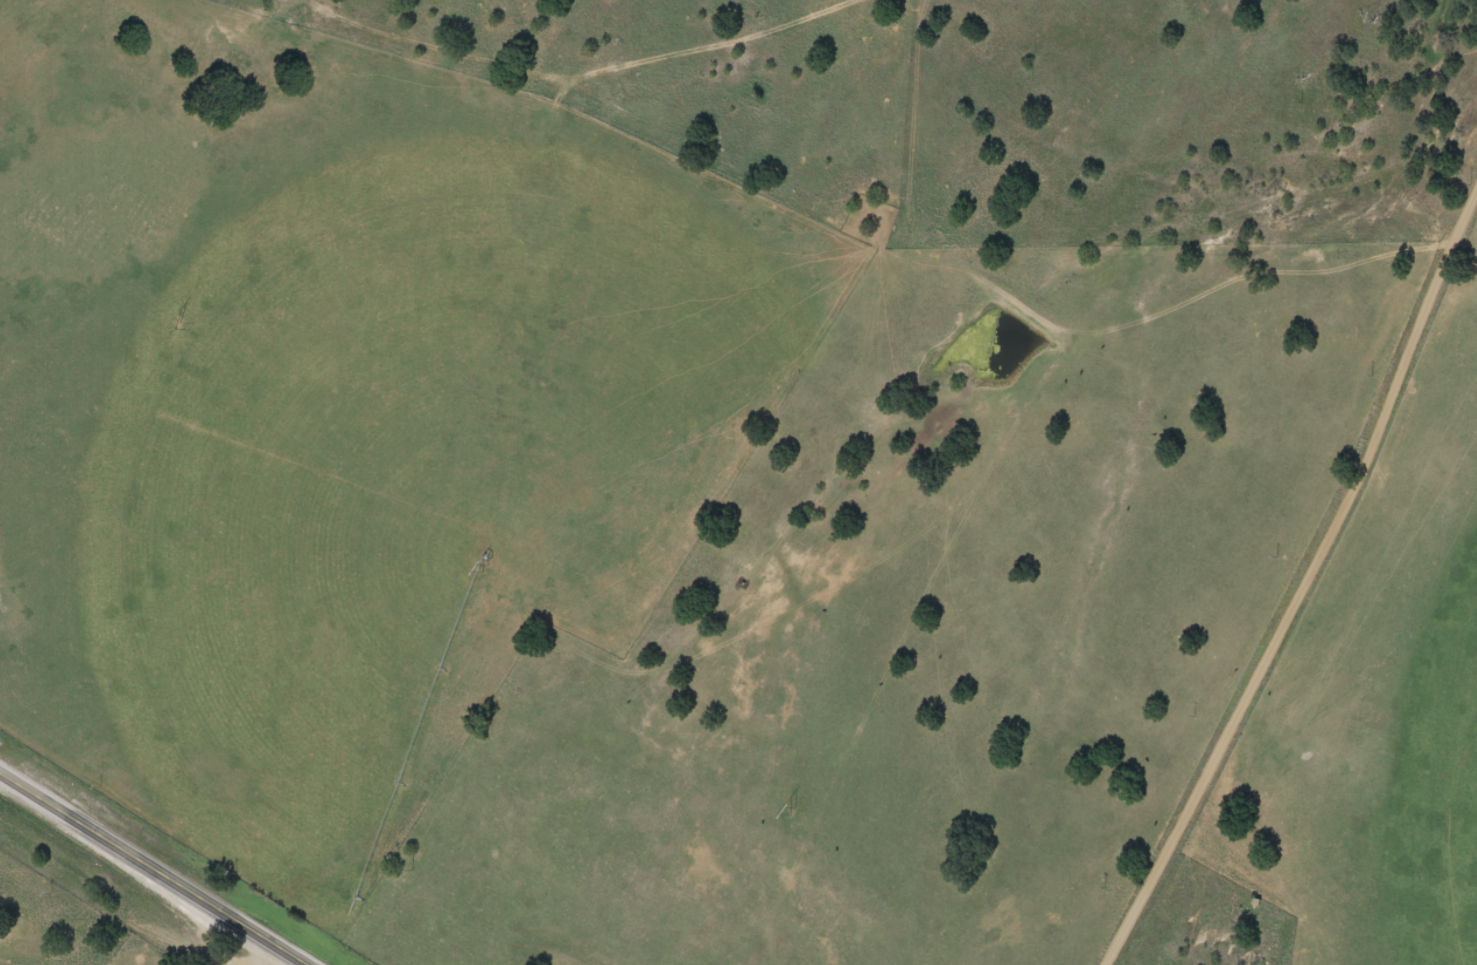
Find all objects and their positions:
power tower: (175, 324)
power tower: (483, 565)
road: (1292, 621)
power tower: (791, 810)
road: (152, 870)

